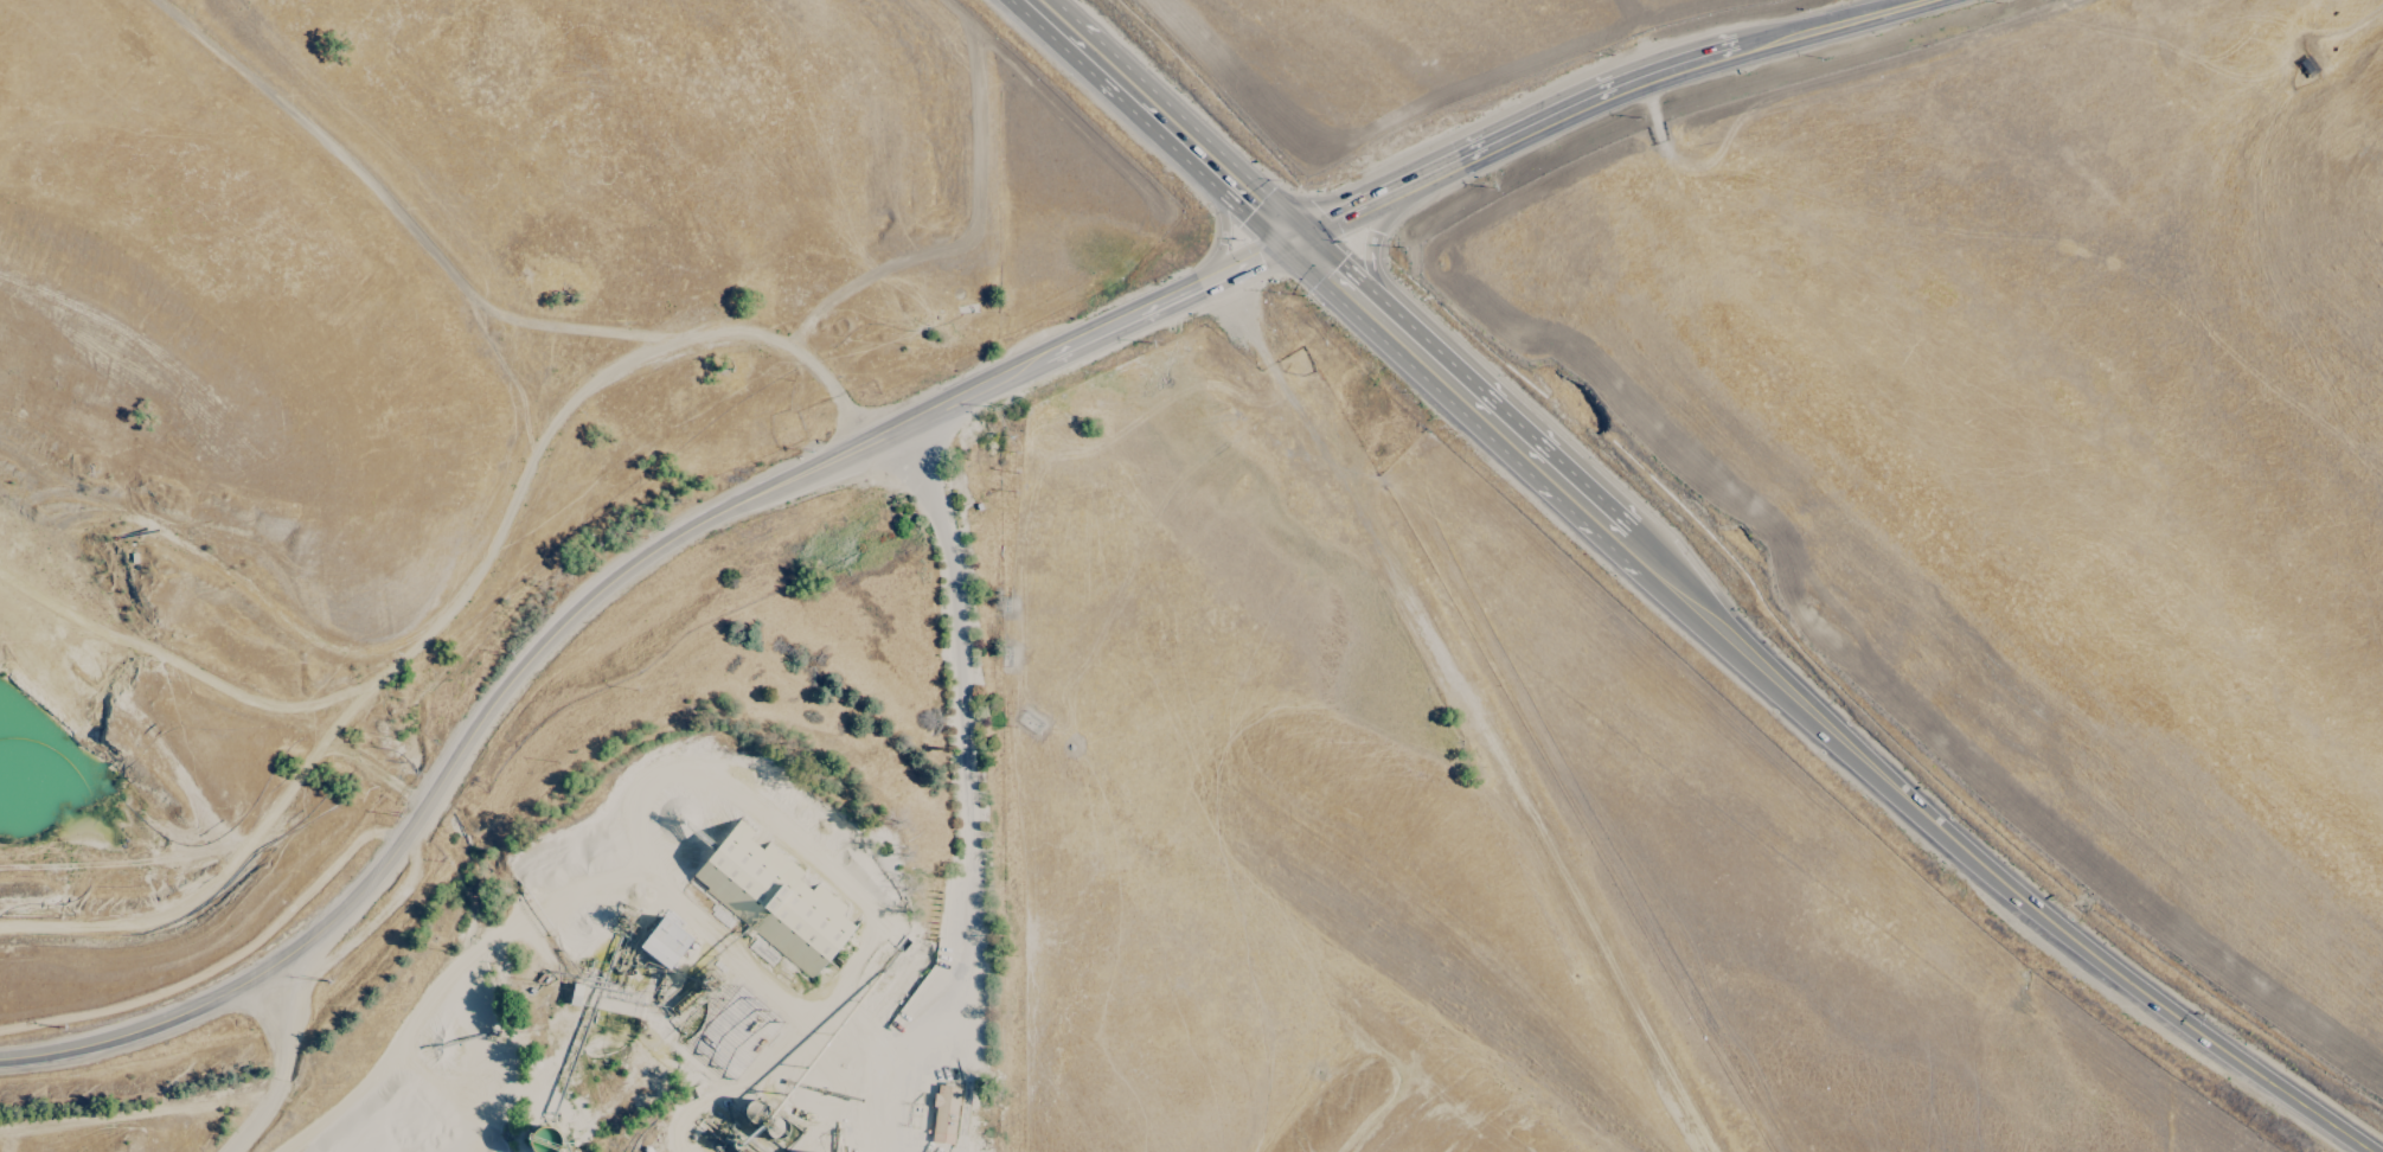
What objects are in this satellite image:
road: (1129, 87)
road: (1595, 95)
road: (1260, 206)
road: (1225, 230)
traffic signals: (1295, 239)
road: (1365, 245)
road: (1335, 277)
road: (1520, 450)
crop: (1441, 517)
road: (602, 603)
road: (967, 801)
road: (2003, 885)
building: (773, 898)
building: (664, 942)
road: (276, 1071)
building: (943, 1114)

